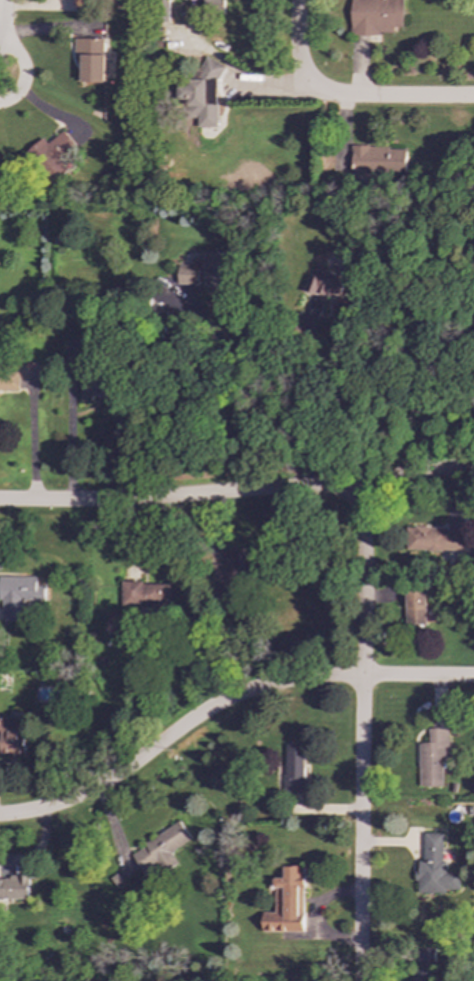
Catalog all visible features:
building: (203, 5)
building: (376, 17)
road: (2, 21)
road: (298, 45)
building: (91, 58)
road: (22, 73)
road: (394, 96)
building: (200, 97)
building: (53, 154)
building: (383, 158)
building: (209, 272)
building: (331, 283)
park: (414, 336)
building: (9, 381)
building: (100, 387)
road: (241, 399)
road: (305, 401)
road: (423, 431)
road: (32, 444)
road: (70, 445)
road: (237, 492)
building: (432, 539)
building: (18, 596)
building: (146, 596)
building: (418, 608)
road: (223, 702)
road: (362, 732)
building: (12, 738)
building: (433, 758)
building: (295, 768)
road: (115, 830)
building: (160, 851)
building: (434, 868)
building: (14, 889)
building: (286, 903)
building: (425, 965)

